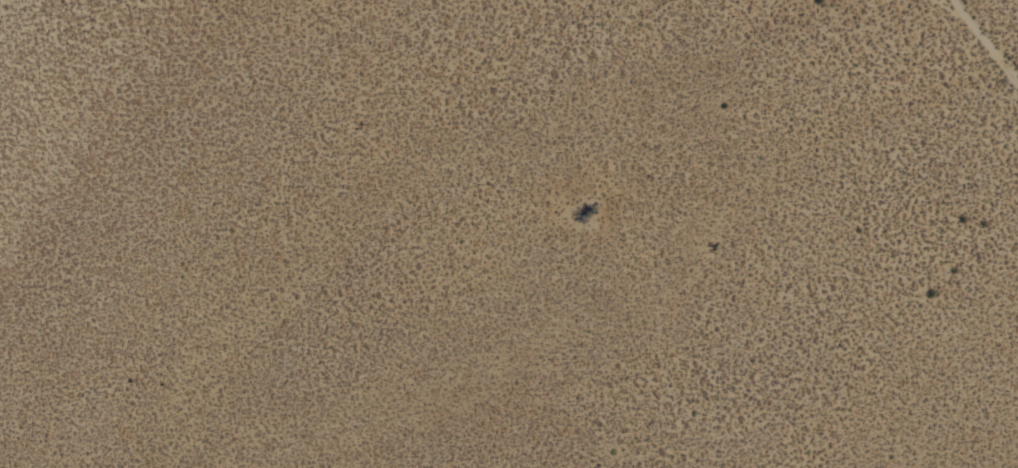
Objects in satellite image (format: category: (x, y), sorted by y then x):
road: (992, 29)

